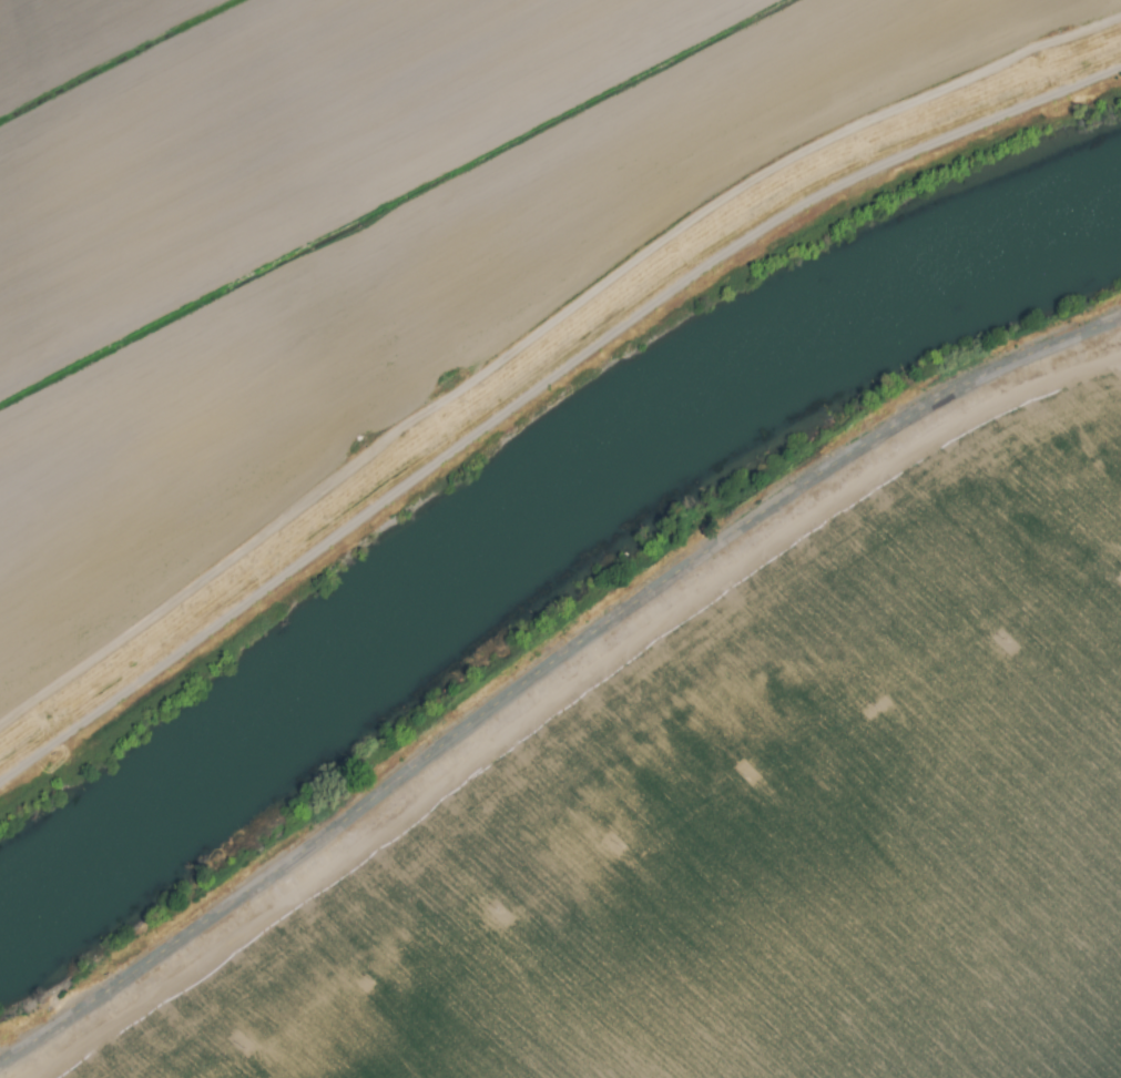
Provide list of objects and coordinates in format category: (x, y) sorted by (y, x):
crop: (371, 252)
road: (539, 387)
road: (547, 668)
crop: (745, 820)

